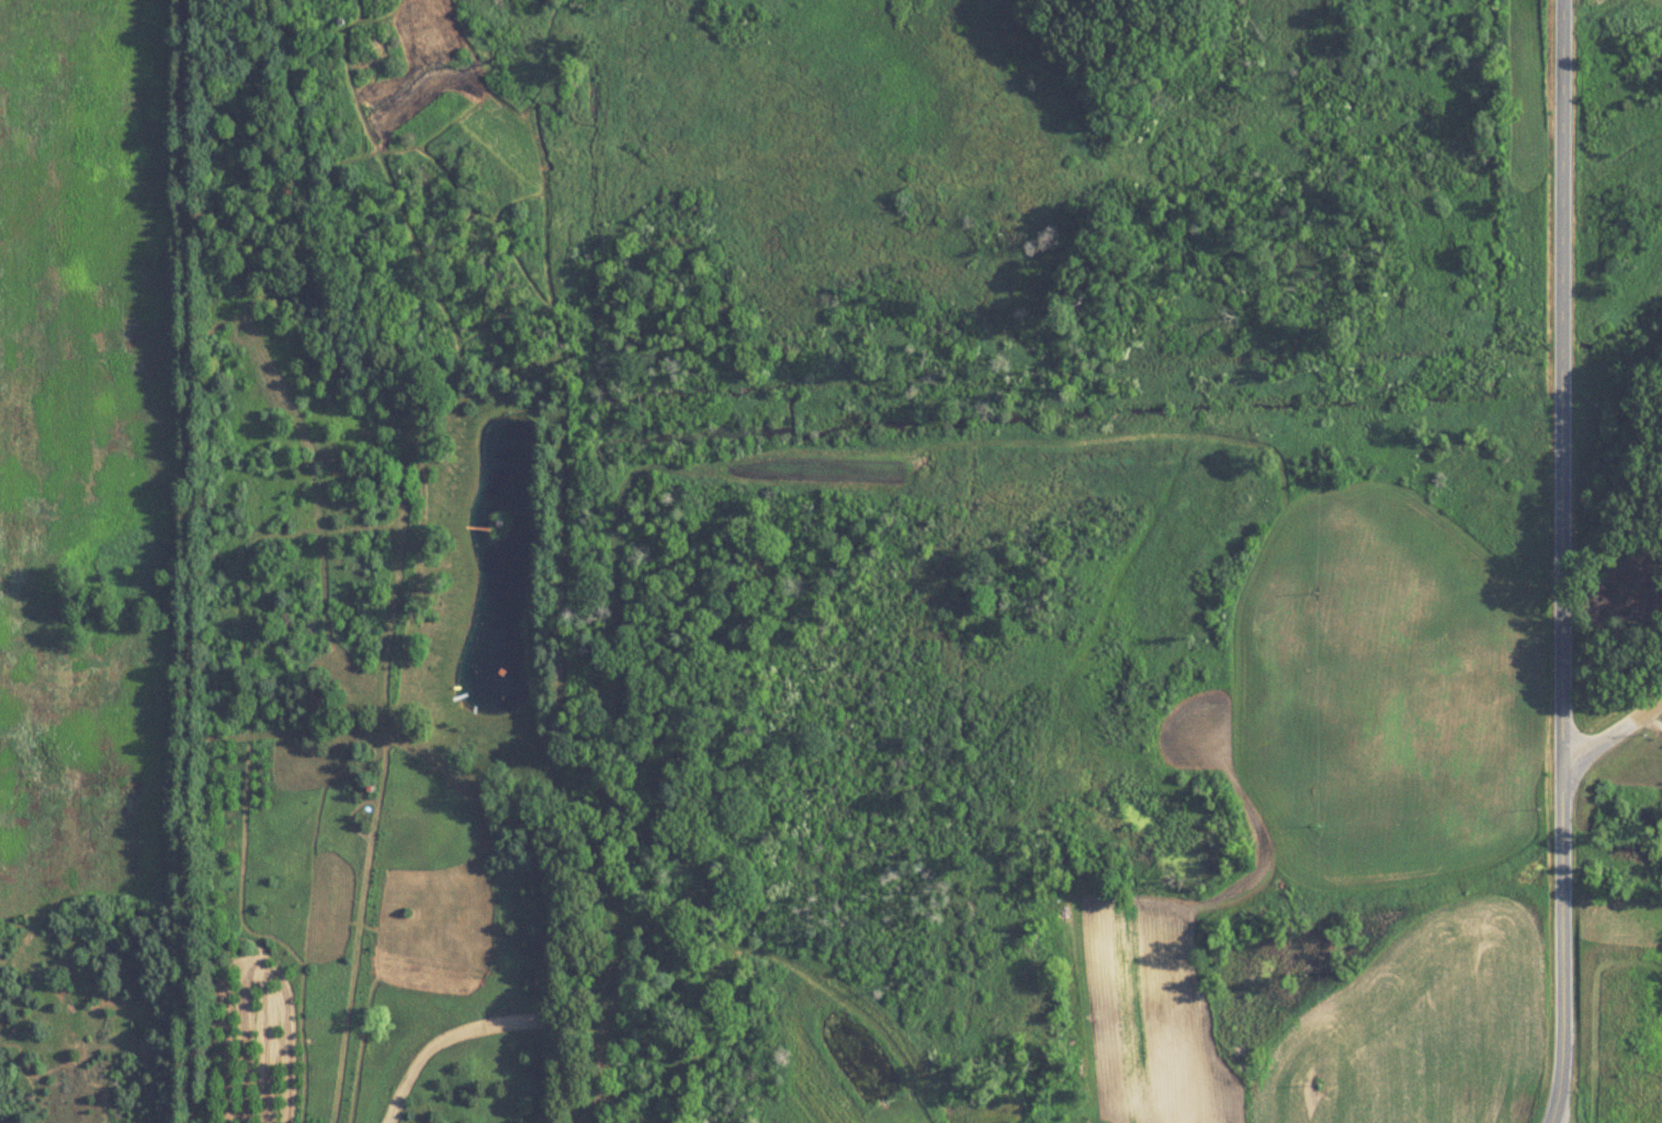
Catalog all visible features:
road: (1559, 561)
road: (1647, 710)
road: (1595, 745)

